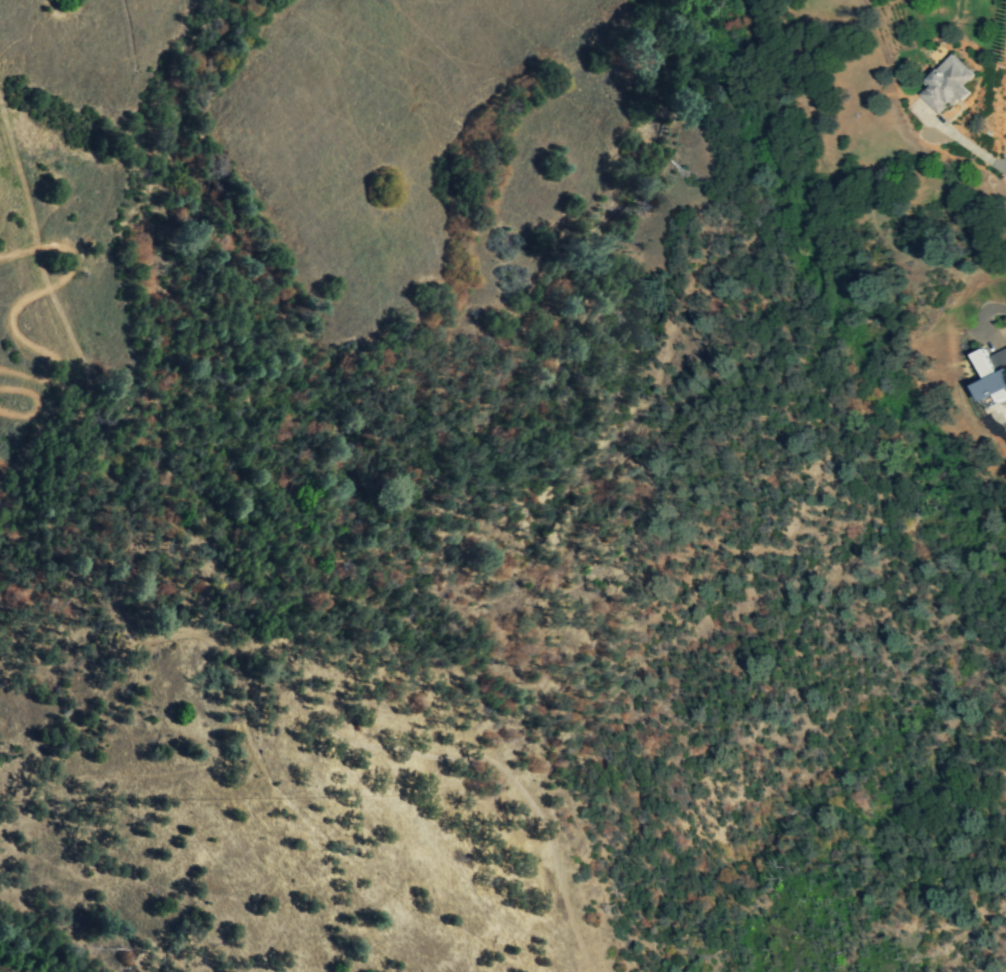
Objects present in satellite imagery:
building: (946, 84)
road: (977, 314)
building: (991, 375)

